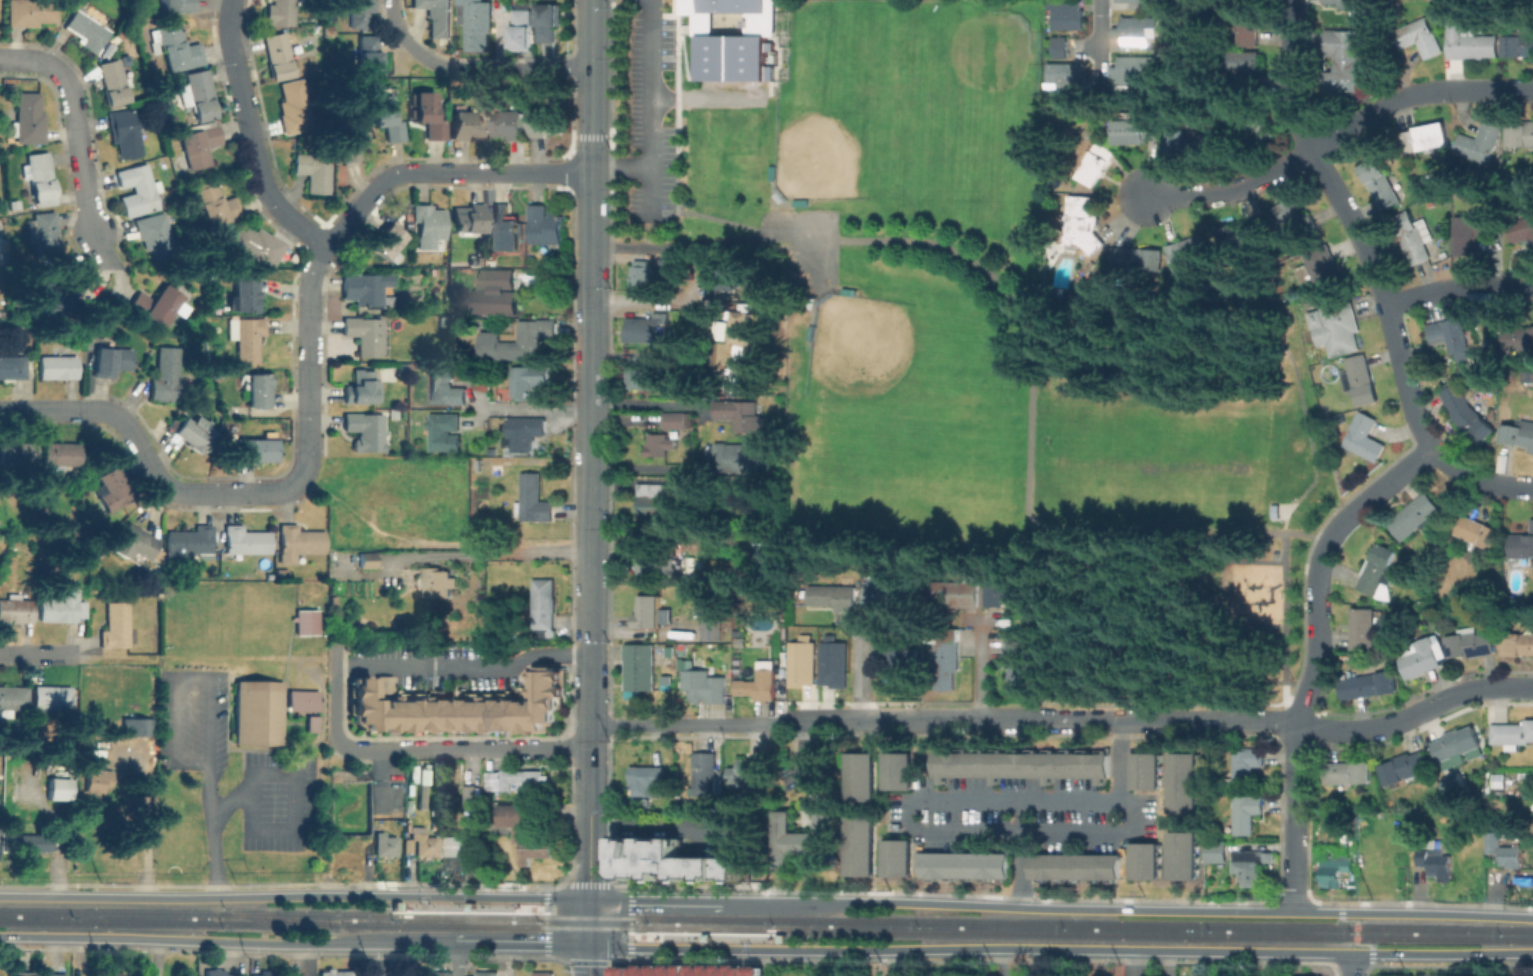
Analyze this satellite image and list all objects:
building: (1132, 0)
building: (1352, 4)
building: (176, 5)
road: (1095, 10)
building: (31, 11)
building: (280, 12)
building: (358, 12)
road: (1291, 13)
building: (1065, 14)
building: (436, 17)
building: (1249, 23)
building: (549, 25)
building: (478, 27)
building: (519, 29)
building: (1137, 29)
building: (88, 30)
building: (731, 37)
building: (1420, 37)
building: (1470, 42)
building: (1518, 45)
building: (1057, 46)
building: (178, 48)
building: (107, 50)
building: (368, 53)
building: (278, 55)
road: (31, 57)
building: (1346, 57)
building: (1245, 66)
road: (473, 68)
building: (1133, 69)
building: (1064, 75)
building: (114, 82)
building: (198, 94)
building: (292, 105)
road: (650, 107)
building: (429, 115)
building: (384, 117)
building: (29, 118)
building: (1251, 121)
building: (547, 122)
building: (467, 124)
building: (509, 124)
building: (1130, 131)
building: (125, 132)
road: (254, 134)
building: (1521, 134)
building: (352, 136)
road: (1336, 137)
building: (1426, 137)
building: (1185, 142)
building: (1481, 142)
building: (199, 144)
road: (83, 150)
building: (1097, 164)
road: (622, 169)
road: (444, 171)
building: (313, 172)
building: (39, 177)
building: (1380, 183)
building: (137, 190)
building: (214, 202)
building: (14, 205)
building: (469, 217)
building: (1290, 217)
building: (428, 224)
building: (546, 224)
building: (1082, 226)
building: (506, 228)
building: (1521, 229)
building: (1473, 231)
building: (1239, 234)
building: (1414, 235)
building: (157, 237)
building: (46, 238)
road: (1354, 238)
building: (384, 242)
building: (258, 244)
road: (684, 244)
building: (1186, 252)
building: (1138, 259)
building: (1322, 270)
building: (643, 275)
building: (724, 277)
road: (997, 281)
building: (1088, 281)
building: (366, 287)
road: (1459, 289)
building: (58, 292)
building: (492, 292)
building: (245, 297)
road: (649, 299)
building: (156, 305)
building: (1339, 325)
building: (646, 327)
building: (1450, 333)
building: (365, 334)
building: (246, 337)
building: (1518, 337)
park: (981, 338)
building: (734, 341)
building: (519, 342)
road: (309, 348)
building: (111, 360)
building: (16, 364)
building: (58, 366)
building: (668, 369)
building: (166, 375)
building: (638, 377)
building: (1360, 379)
building: (528, 382)
building: (363, 387)
building: (446, 389)
building: (258, 390)
road: (650, 405)
road: (535, 409)
road: (41, 412)
building: (742, 413)
building: (1467, 413)
building: (677, 421)
building: (367, 432)
building: (525, 433)
building: (1518, 433)
building: (192, 434)
building: (444, 434)
building: (1363, 437)
building: (661, 444)
building: (254, 448)
road: (592, 449)
building: (17, 453)
building: (60, 455)
building: (741, 456)
road: (309, 463)
building: (494, 465)
road: (649, 468)
road: (1479, 480)
building: (740, 481)
building: (112, 489)
road: (181, 490)
building: (654, 498)
building: (533, 499)
building: (1415, 515)
building: (1476, 531)
road: (1337, 533)
building: (136, 541)
building: (245, 541)
building: (298, 542)
building: (189, 543)
building: (1522, 546)
road: (501, 551)
building: (367, 559)
building: (654, 563)
building: (729, 571)
building: (1379, 571)
building: (367, 577)
building: (438, 582)
building: (884, 590)
building: (957, 591)
building: (1004, 592)
building: (834, 596)
building: (60, 606)
building: (543, 607)
building: (1429, 609)
building: (16, 610)
building: (649, 611)
building: (307, 621)
building: (116, 626)
building: (1364, 627)
building: (712, 628)
building: (740, 641)
building: (1470, 642)
building: (1517, 643)
road: (40, 655)
building: (1422, 659)
building: (800, 662)
building: (831, 662)
building: (896, 662)
building: (1019, 663)
building: (947, 664)
building: (639, 666)
road: (463, 667)
road: (982, 669)
building: (1369, 684)
building: (705, 685)
building: (758, 685)
road: (1306, 693)
road: (333, 696)
building: (13, 697)
building: (52, 697)
building: (303, 700)
building: (461, 709)
building: (259, 714)
road: (207, 715)
road: (1417, 715)
road: (1084, 720)
building: (312, 723)
road: (728, 725)
building: (133, 726)
building: (1512, 733)
building: (1456, 742)
road: (464, 748)
road: (1121, 761)
road: (1296, 762)
building: (1248, 763)
building: (1020, 765)
building: (1405, 768)
building: (745, 769)
building: (1144, 770)
building: (900, 771)
building: (1348, 771)
building: (704, 773)
building: (1525, 775)
building: (647, 777)
building: (863, 777)
building: (98, 778)
building: (425, 778)
building: (517, 781)
building: (1182, 782)
building: (1454, 782)
road: (293, 787)
building: (56, 788)
building: (1528, 792)
building: (472, 793)
building: (408, 806)
building: (641, 806)
building: (1246, 812)
building: (512, 818)
road: (665, 828)
building: (1, 831)
building: (60, 832)
road: (922, 832)
building: (803, 836)
building: (1330, 840)
building: (29, 841)
building: (1347, 841)
building: (424, 843)
building: (469, 843)
building: (385, 844)
building: (456, 845)
building: (862, 846)
building: (534, 850)
building: (1504, 850)
building: (1217, 851)
road: (1023, 854)
building: (1181, 855)
road: (1296, 856)
building: (900, 858)
building: (1144, 860)
building: (1436, 861)
building: (669, 862)
building: (965, 864)
building: (1250, 864)
building: (1074, 866)
building: (1331, 873)
road: (422, 893)
road: (294, 896)
traffic signals: (589, 899)
road: (654, 900)
railway: (529, 903)
road: (481, 906)
road: (1126, 910)
railway: (195, 912)
railway: (464, 915)
railway: (587, 916)
railway: (277, 917)
railway: (269, 922)
railway: (1084, 923)
railway: (586, 926)
railway: (710, 928)
railway: (1159, 933)
road: (1357, 933)
road: (690, 936)
road: (589, 937)
road: (228, 942)
railway: (784, 942)
road: (523, 945)
road: (545, 946)
traffic signals: (589, 947)
road: (1060, 949)
road: (744, 951)
road: (456, 960)
road: (1003, 962)
road: (820, 963)
road: (892, 963)
road: (1129, 963)
road: (1351, 964)
building: (689, 970)
building: (218, 972)
building: (269, 972)
building: (21, 973)
building: (112, 973)
building: (331, 973)
building: (434, 973)
building: (487, 973)
building: (543, 973)
building: (53, 974)

